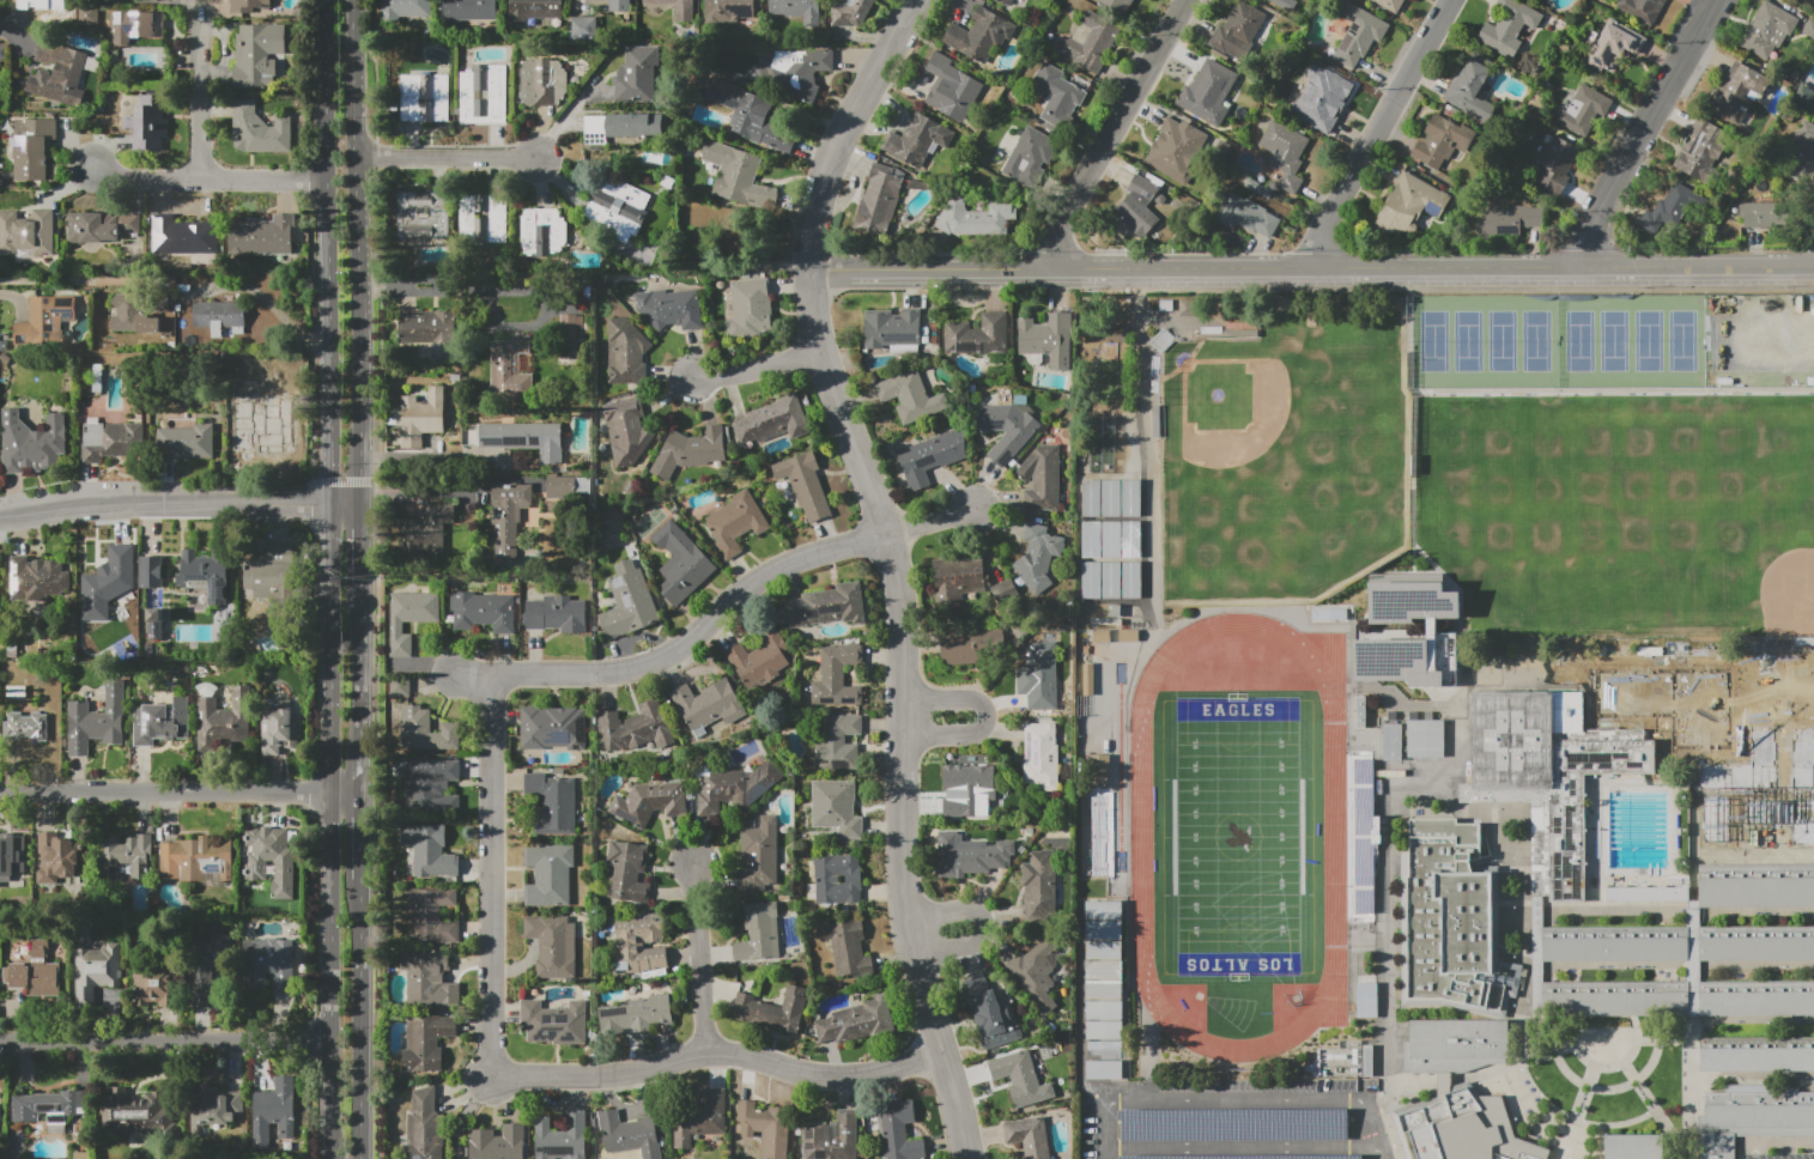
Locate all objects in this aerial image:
building: (1006, 2)
building: (1284, 2)
building: (1390, 4)
building: (23, 5)
building: (249, 5)
building: (619, 5)
building: (666, 5)
building: (1118, 5)
road: (196, 8)
building: (1642, 8)
building: (402, 10)
building: (533, 10)
building: (729, 10)
building: (797, 10)
building: (471, 11)
building: (850, 12)
building: (89, 14)
building: (135, 26)
building: (1509, 26)
building: (582, 28)
building: (1769, 30)
building: (1237, 32)
building: (1358, 32)
building: (981, 35)
road: (12, 36)
building: (1092, 41)
building: (1614, 45)
building: (4, 53)
building: (256, 55)
building: (803, 69)
building: (637, 74)
building: (63, 81)
building: (541, 81)
building: (952, 89)
building: (1470, 91)
building: (1208, 92)
building: (1735, 92)
building: (483, 95)
building: (425, 97)
building: (1056, 98)
road: (198, 101)
building: (1325, 104)
building: (1584, 111)
building: (750, 115)
road: (560, 120)
building: (147, 123)
building: (619, 127)
building: (259, 129)
road: (1375, 131)
road: (1646, 131)
road: (1115, 133)
building: (916, 140)
building: (1443, 141)
building: (31, 147)
building: (1175, 150)
building: (1700, 152)
building: (1285, 153)
building: (1803, 154)
building: (1030, 157)
road: (445, 160)
building: (1555, 164)
building: (736, 175)
road: (206, 178)
building: (1258, 188)
building: (1159, 199)
building: (878, 200)
building: (1407, 205)
building: (1673, 205)
road: (322, 206)
road: (354, 206)
building: (1139, 206)
building: (617, 208)
building: (421, 213)
building: (1759, 214)
building: (1246, 216)
building: (975, 218)
building: (484, 219)
building: (1506, 220)
building: (99, 226)
building: (542, 232)
building: (28, 235)
building: (183, 236)
building: (262, 236)
building: (638, 248)
road: (1310, 265)
road: (59, 279)
building: (671, 308)
road: (273, 309)
building: (748, 309)
building: (132, 314)
building: (222, 316)
building: (44, 321)
building: (570, 326)
building: (429, 330)
building: (892, 332)
building: (978, 335)
building: (1046, 338)
park: (1614, 342)
building: (626, 352)
building: (511, 368)
road: (760, 368)
road: (1613, 390)
building: (910, 396)
building: (418, 418)
building: (773, 421)
building: (1008, 429)
building: (626, 430)
building: (263, 436)
building: (524, 438)
building: (111, 441)
building: (31, 442)
building: (186, 442)
building: (690, 451)
building: (932, 455)
road: (328, 459)
road: (362, 459)
road: (430, 465)
park: (1280, 469)
building: (1042, 478)
building: (806, 485)
building: (559, 486)
road: (163, 506)
road: (345, 506)
park: (1622, 512)
building: (508, 516)
building: (735, 522)
road: (930, 523)
building: (427, 528)
building: (1109, 536)
road: (363, 550)
building: (1038, 557)
building: (681, 563)
road: (890, 564)
building: (151, 571)
building: (204, 572)
building: (271, 572)
building: (958, 577)
building: (37, 578)
building: (109, 585)
building: (1003, 589)
building: (0, 600)
building: (629, 602)
building: (827, 606)
building: (481, 611)
building: (154, 614)
building: (556, 614)
building: (1328, 614)
building: (408, 618)
road: (1164, 631)
building: (153, 632)
building: (1129, 635)
building: (1442, 636)
road: (680, 642)
building: (960, 647)
road: (328, 653)
road: (1638, 656)
building: (1767, 659)
building: (759, 660)
building: (1039, 675)
building: (837, 676)
building: (1778, 682)
building: (398, 687)
road: (363, 696)
building: (1669, 702)
building: (709, 704)
road: (1403, 704)
building: (1359, 711)
road: (983, 714)
building: (162, 720)
building: (224, 720)
building: (97, 721)
building: (1784, 723)
building: (279, 724)
building: (26, 727)
building: (553, 728)
building: (635, 728)
building: (425, 730)
building: (1425, 738)
road: (1463, 739)
building: (836, 740)
building: (1511, 740)
building: (1389, 741)
road: (1672, 753)
building: (1041, 756)
building: (1099, 766)
building: (431, 784)
building: (735, 788)
building: (1760, 791)
building: (969, 794)
road: (163, 800)
road: (346, 800)
building: (649, 802)
building: (1583, 802)
building: (553, 803)
building: (836, 807)
road: (1334, 824)
track: (1334, 824)
building: (1100, 835)
track: (1237, 836)
park: (1238, 837)
road: (363, 841)
building: (430, 850)
building: (759, 854)
building: (969, 855)
road: (1754, 855)
building: (12, 856)
building: (59, 856)
building: (125, 857)
building: (271, 857)
building: (198, 861)
building: (627, 872)
building: (548, 874)
road: (492, 875)
building: (836, 879)
building: (1039, 884)
road: (1693, 893)
road: (935, 914)
road: (1668, 914)
building: (431, 916)
building: (1455, 916)
road: (979, 921)
road: (1370, 926)
track: (1337, 927)
building: (759, 933)
building: (638, 943)
building: (1613, 943)
building: (1757, 943)
building: (552, 945)
building: (848, 947)
road: (945, 949)
road: (699, 957)
building: (269, 963)
building: (205, 965)
building: (35, 971)
road: (1668, 971)
building: (96, 972)
building: (1036, 972)
road: (330, 978)
building: (429, 979)
building: (153, 982)
building: (1105, 991)
building: (1614, 997)
building: (1365, 999)
building: (1757, 999)
road: (1103, 1000)
building: (775, 1009)
building: (635, 1014)
building: (988, 1014)
road: (363, 1020)
road: (1523, 1020)
building: (857, 1021)
building: (554, 1023)
road: (1668, 1024)
road: (1649, 1037)
road: (165, 1043)
building: (426, 1044)
building: (1454, 1044)
road: (1145, 1051)
road: (717, 1052)
building: (1757, 1054)
road: (1488, 1075)
building: (1023, 1076)
road: (1615, 1088)
road: (1583, 1098)
road: (1645, 1098)
road: (1694, 1098)
road: (1203, 1099)
building: (49, 1108)
building: (213, 1109)
building: (275, 1111)
building: (134, 1112)
road: (462, 1114)
building: (1752, 1116)
building: (699, 1118)
parking lot: (1258, 1122)
building: (1233, 1124)
building: (424, 1127)
building: (1452, 1127)
building: (765, 1128)
road: (1375, 1128)
building: (899, 1130)
building: (627, 1134)
building: (560, 1136)
building: (831, 1137)
building: (1029, 1137)
building: (498, 1142)
building: (14, 1143)
road: (1243, 1147)
building: (1634, 1147)
building: (1521, 1149)
building: (237, 1151)
building: (83, 1155)
parking lot: (1777, 1155)
building: (1245, 1157)

